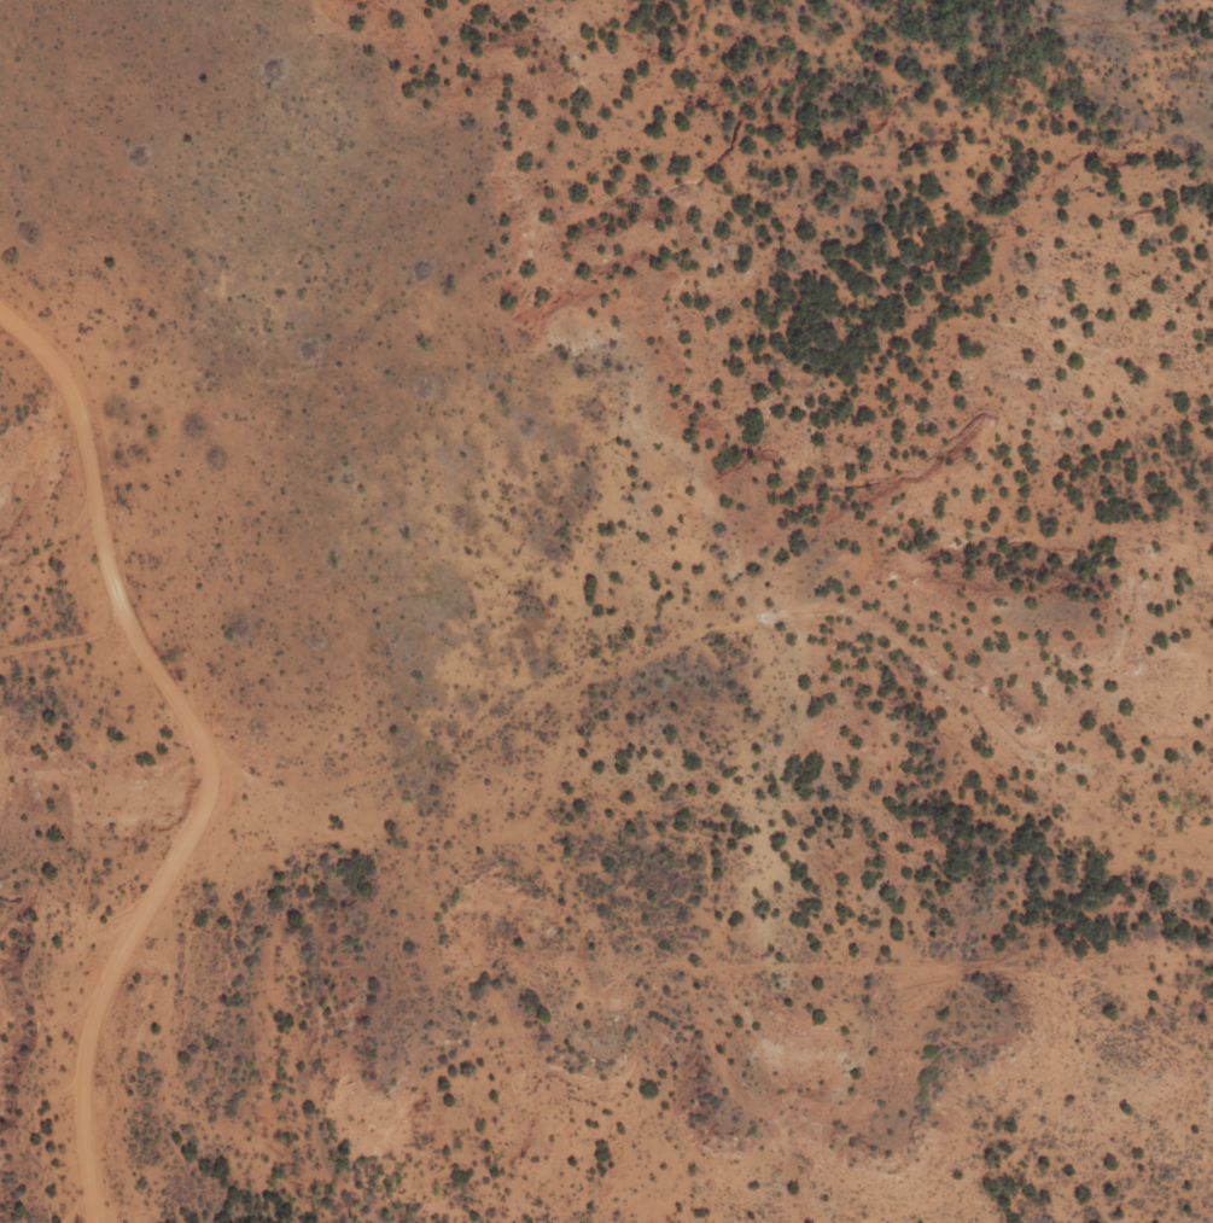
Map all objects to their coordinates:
road: (199, 776)

